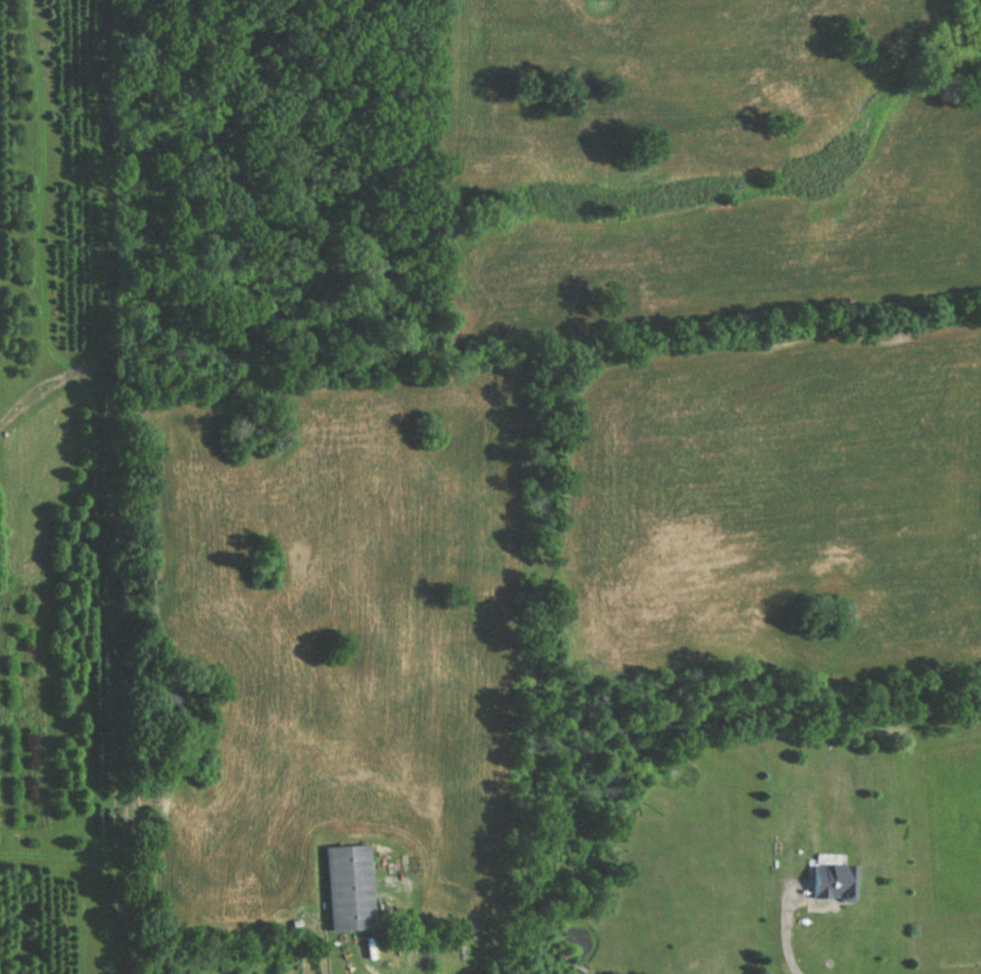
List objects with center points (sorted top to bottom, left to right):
building: (833, 881)
building: (348, 888)
road: (784, 939)

